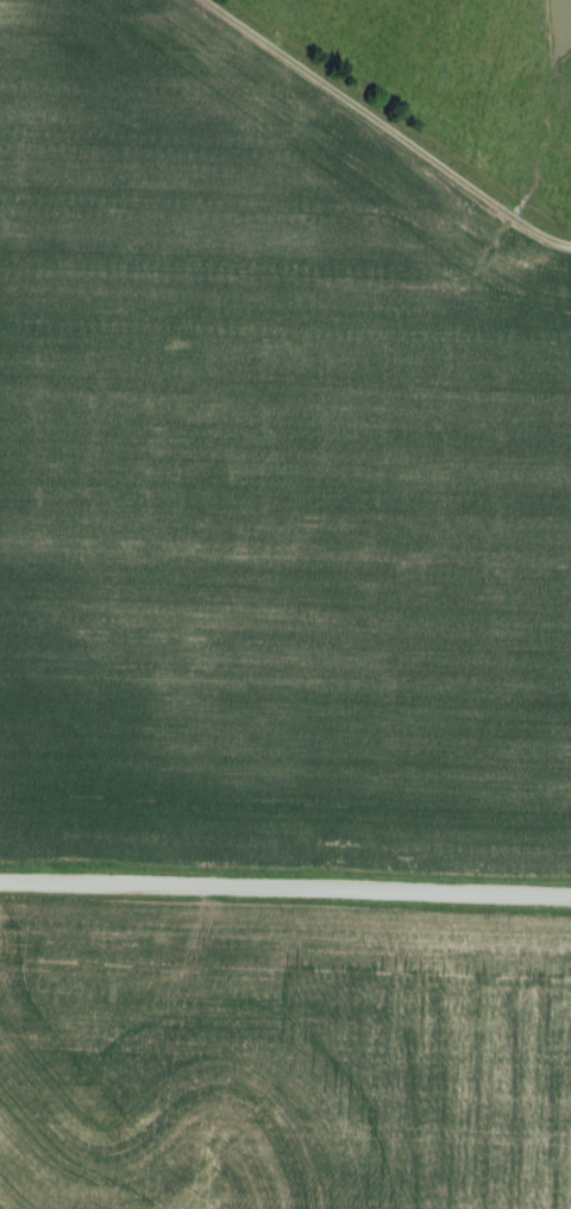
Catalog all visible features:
road: (384, 127)
road: (285, 889)

